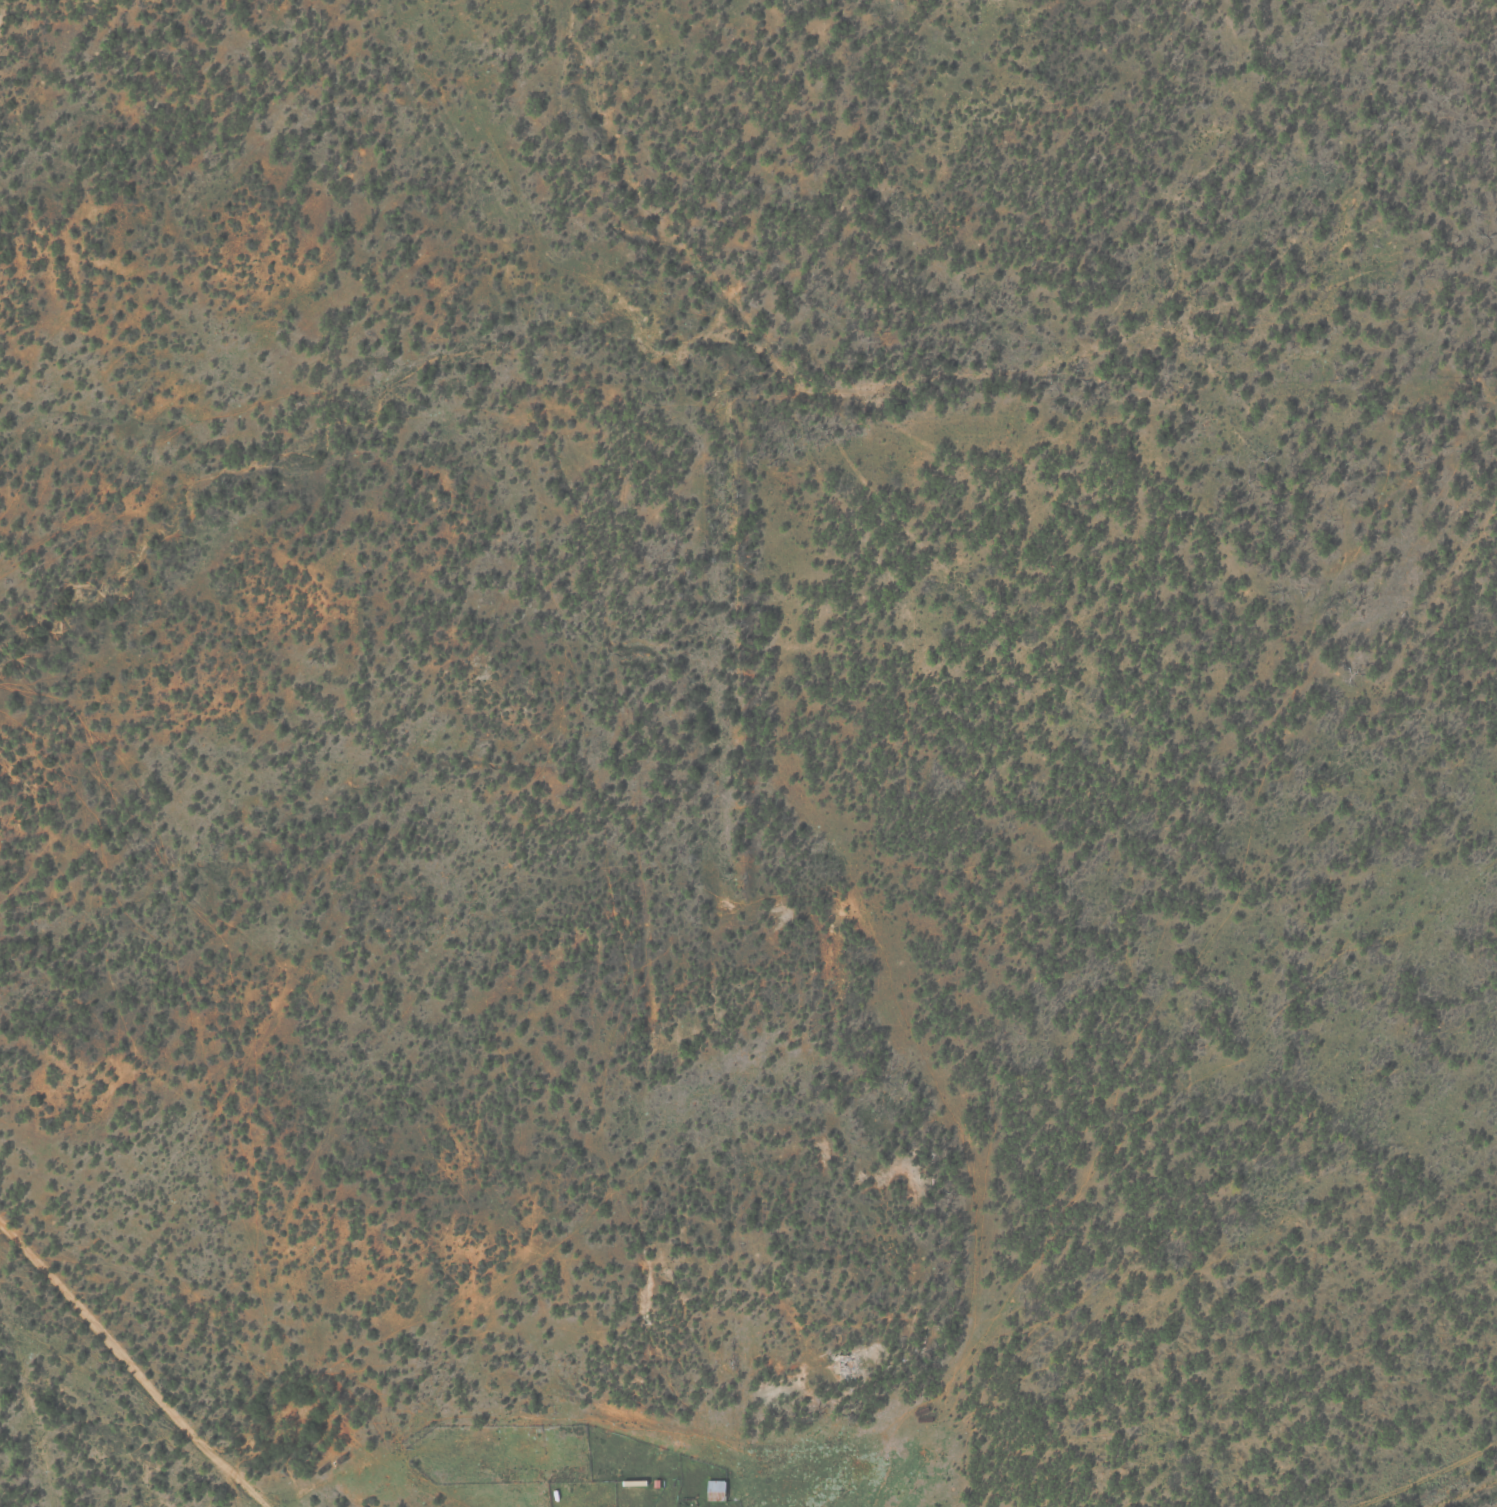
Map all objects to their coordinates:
road: (124, 1374)

